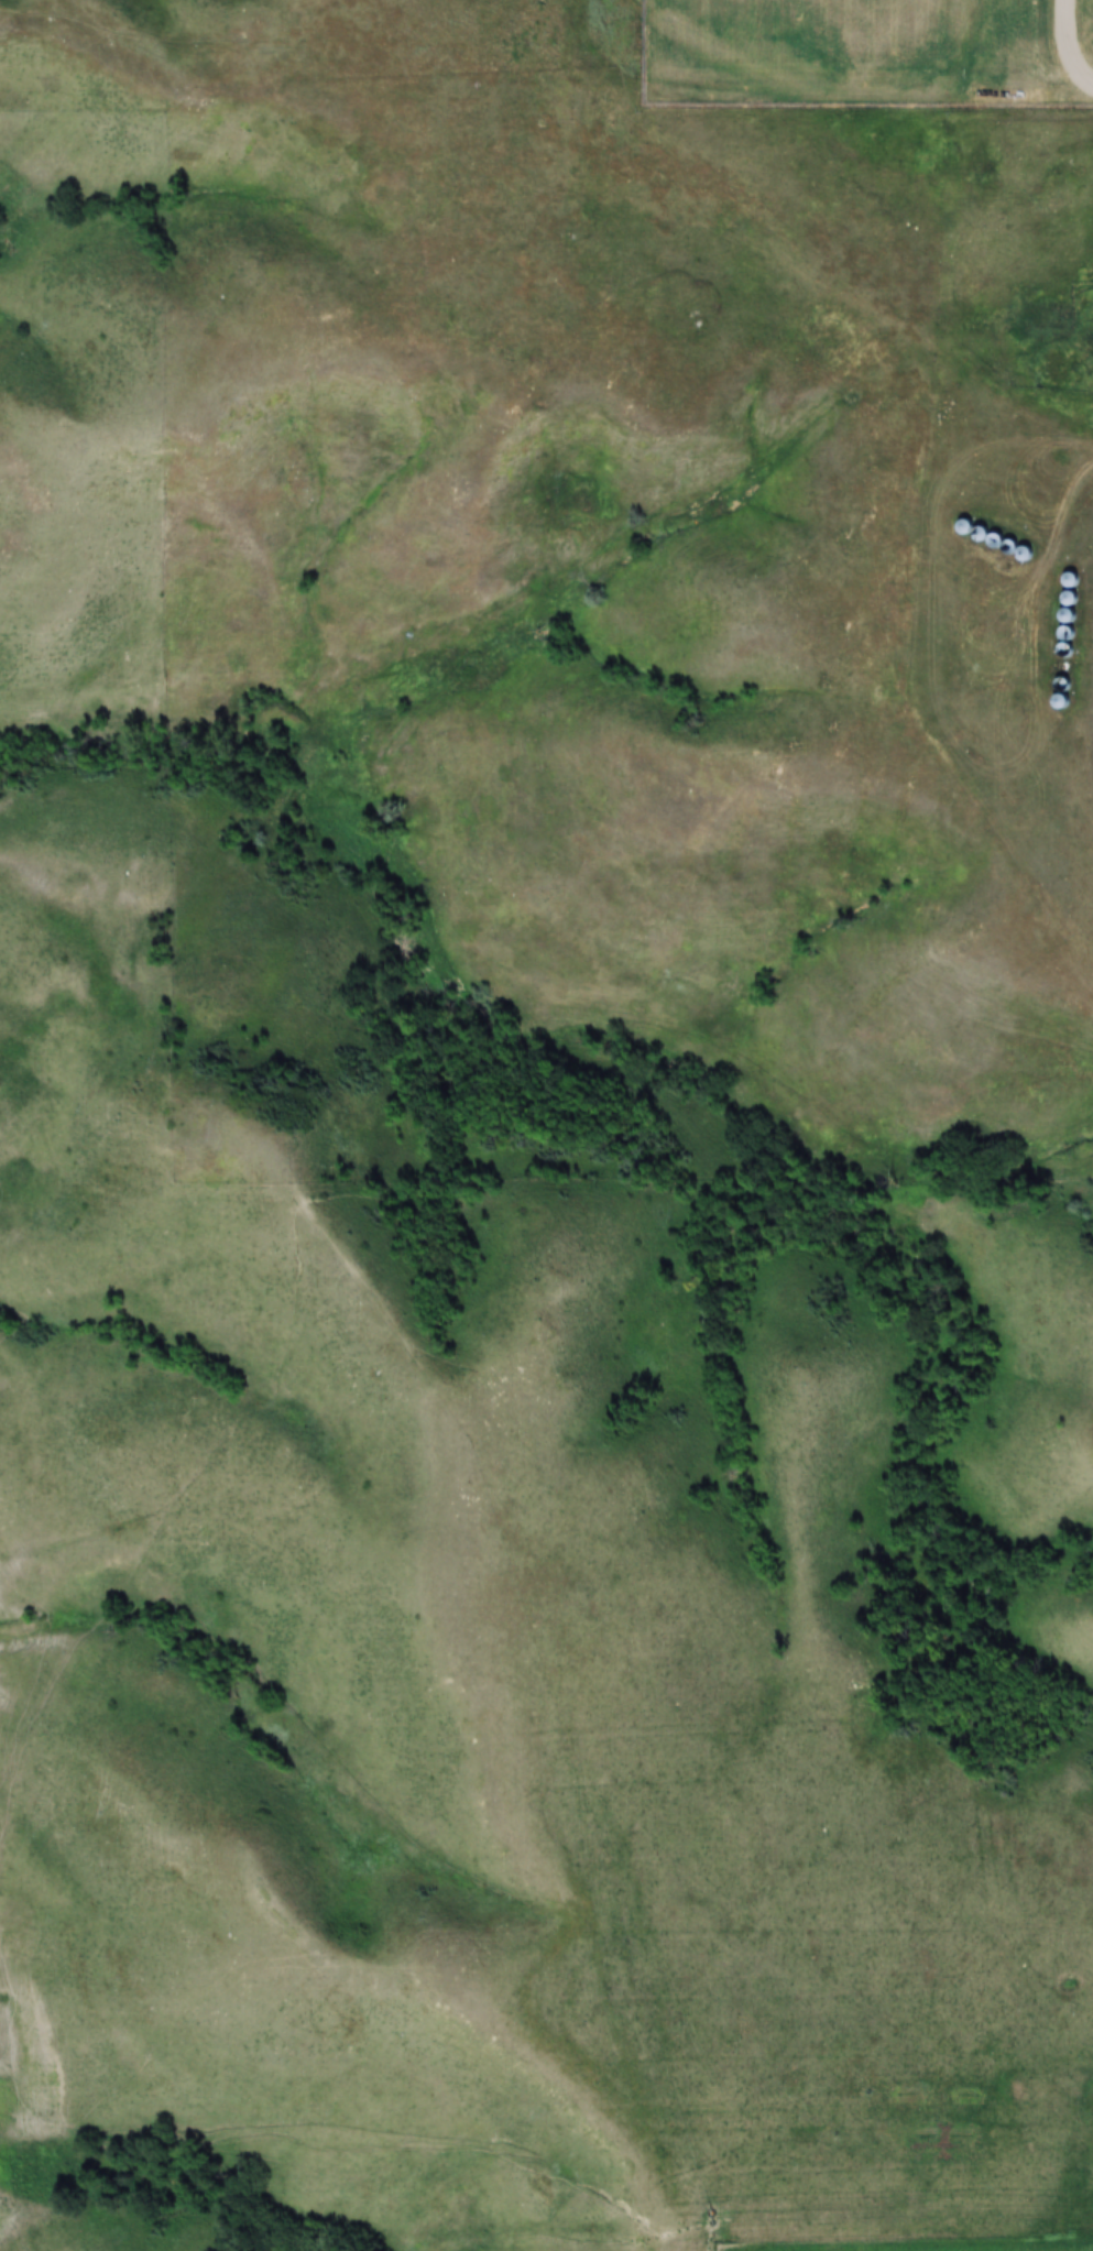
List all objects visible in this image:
road: (1069, 41)
road: (998, 2247)

